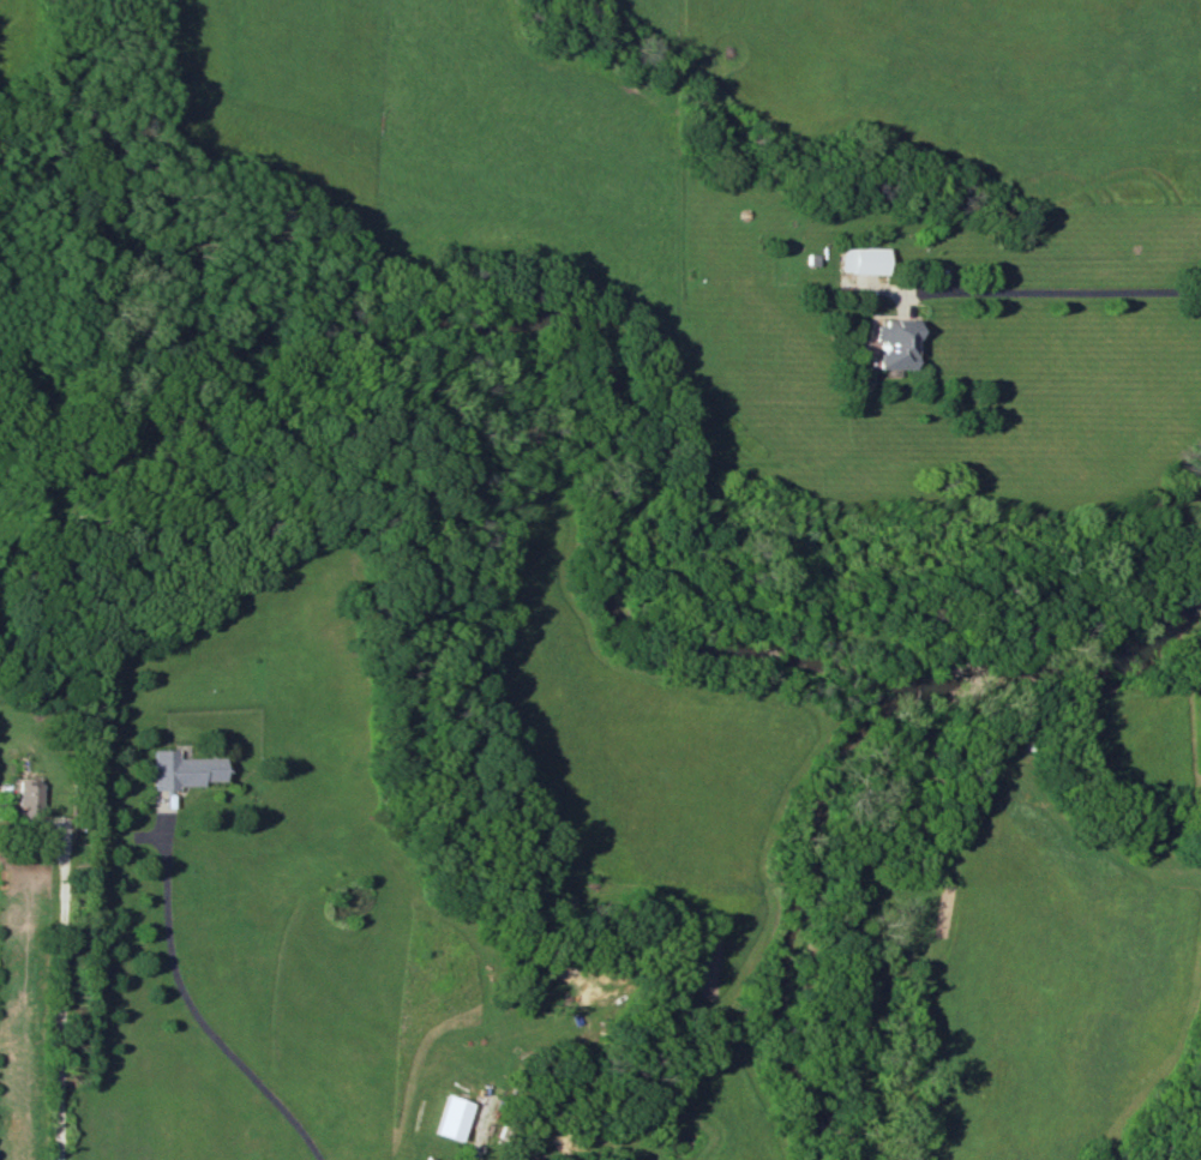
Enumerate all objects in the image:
building: (861, 259)
road: (1046, 289)
river: (565, 332)
building: (894, 344)
river: (1070, 662)
building: (181, 769)
building: (24, 794)
road: (62, 992)
road: (192, 1010)
building: (454, 1117)

